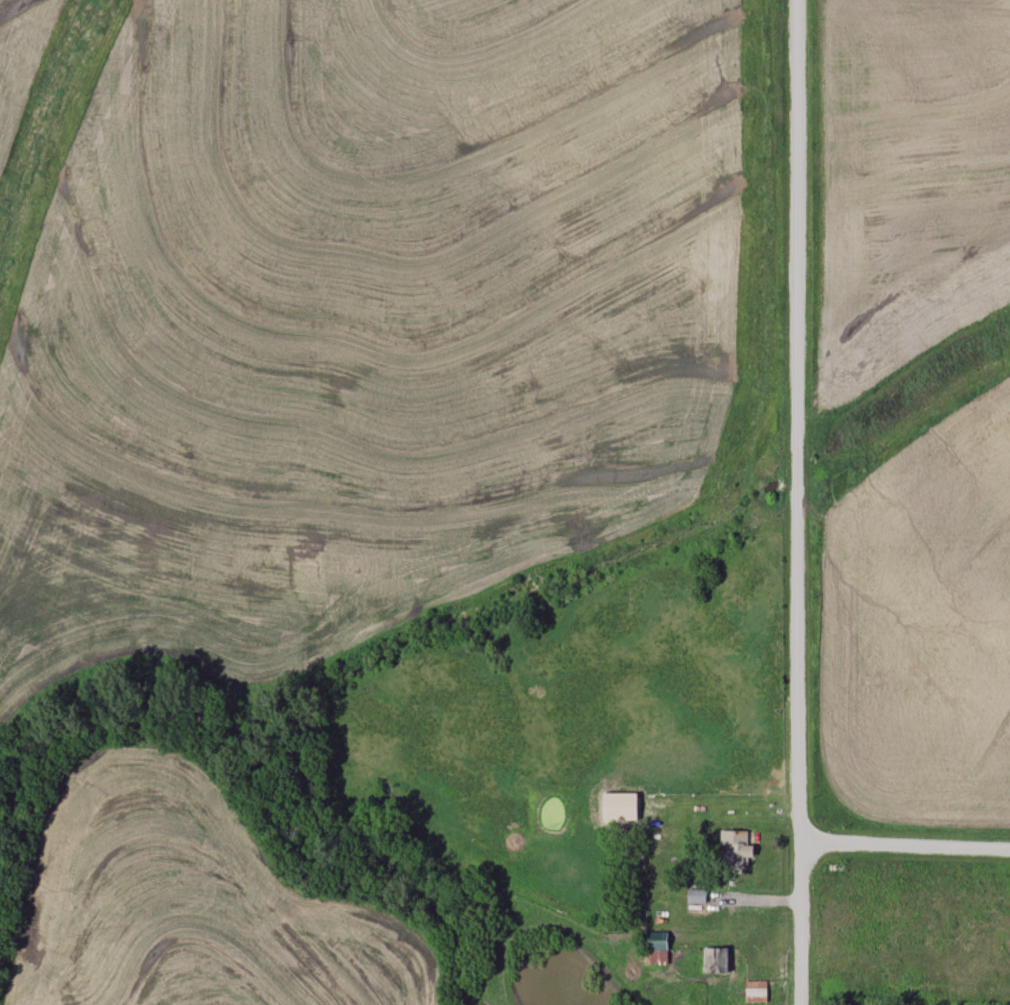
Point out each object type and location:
road: (797, 502)
road: (904, 845)
building: (737, 848)
building: (696, 896)
building: (656, 948)
building: (713, 961)
building: (756, 992)

